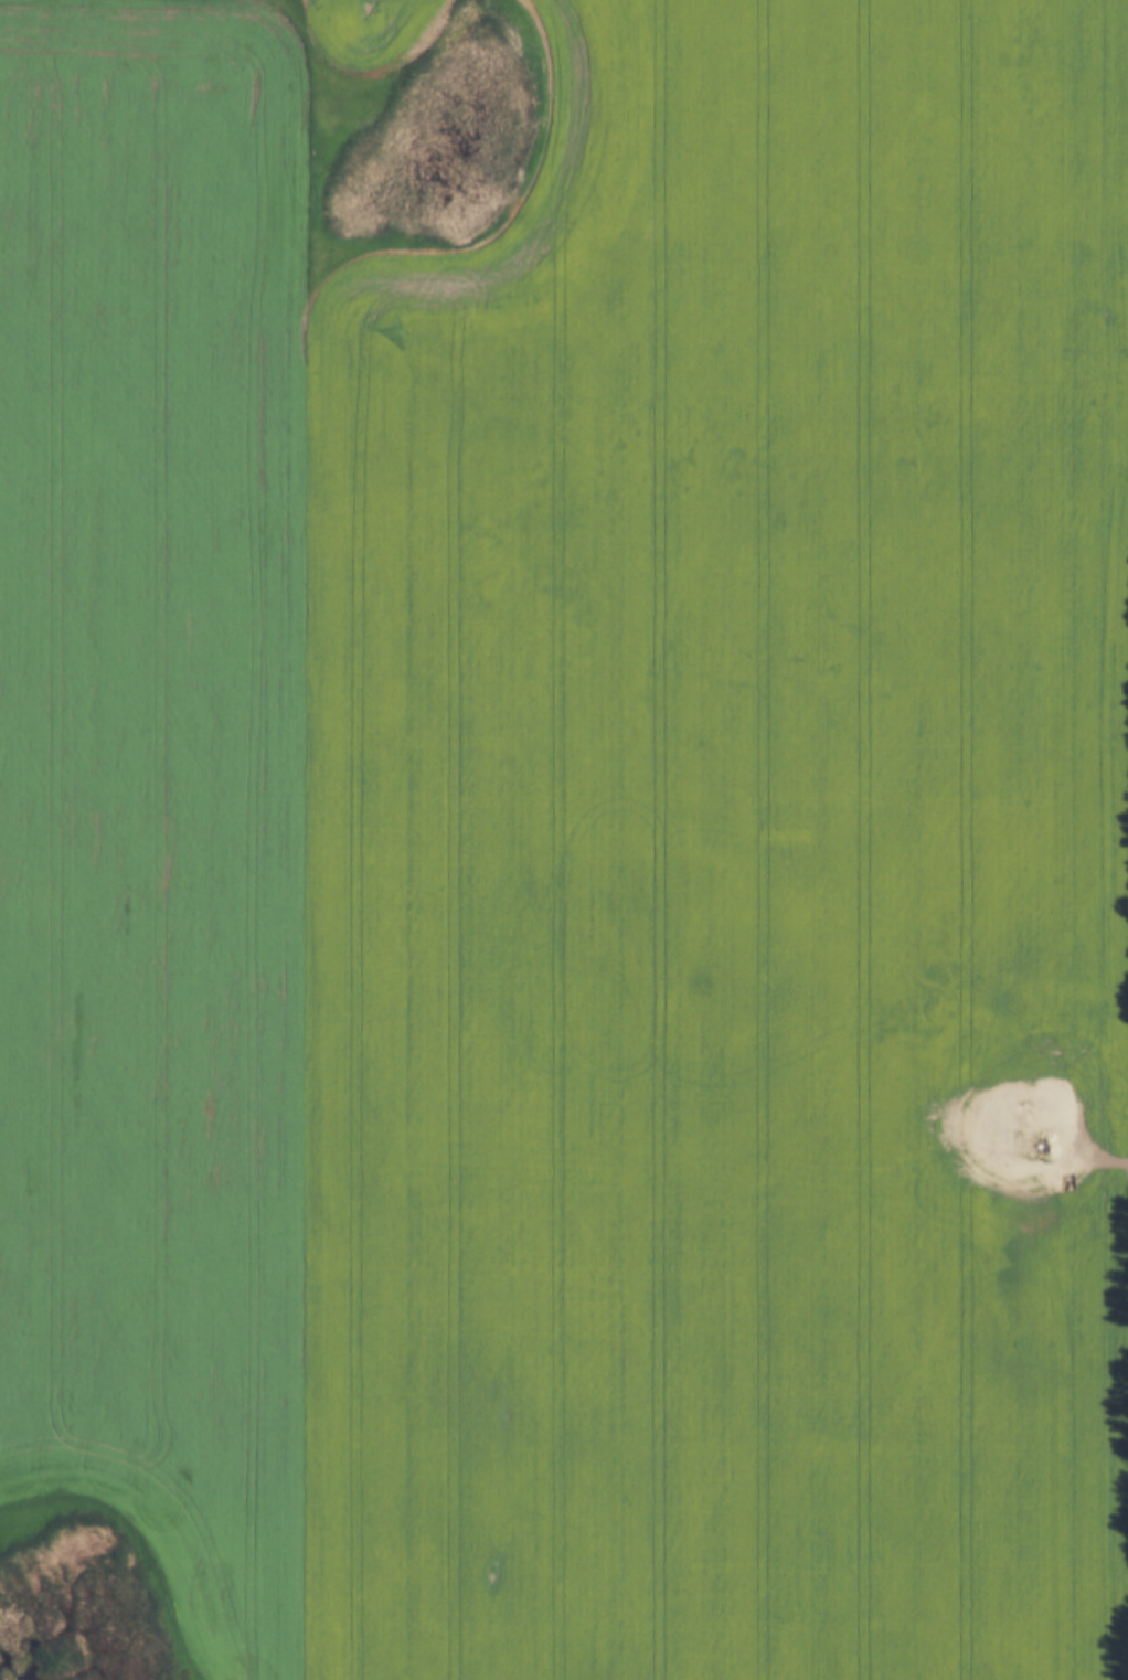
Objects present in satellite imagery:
road: (1030, 1199)

